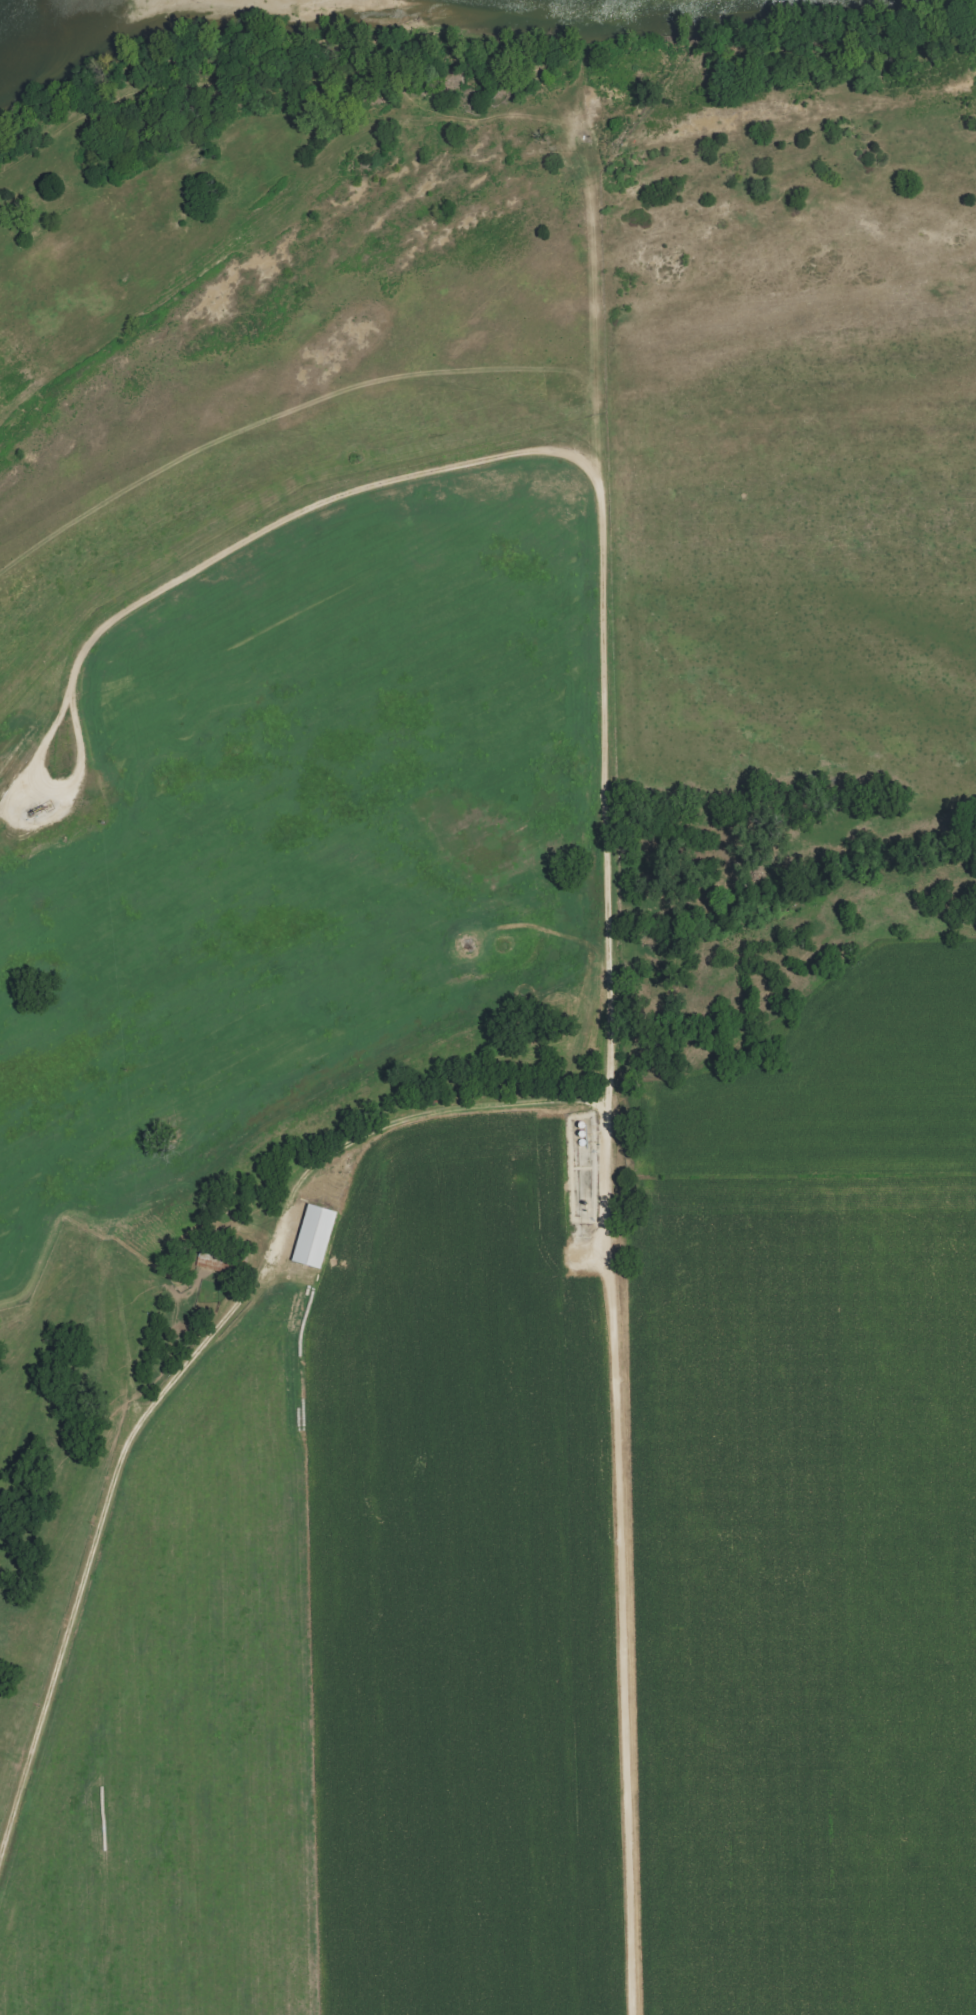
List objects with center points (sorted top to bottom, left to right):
river: (34, 20)
road: (27, 798)
petroleum well: (46, 806)
road: (610, 920)
building: (310, 1237)
road: (174, 1375)

